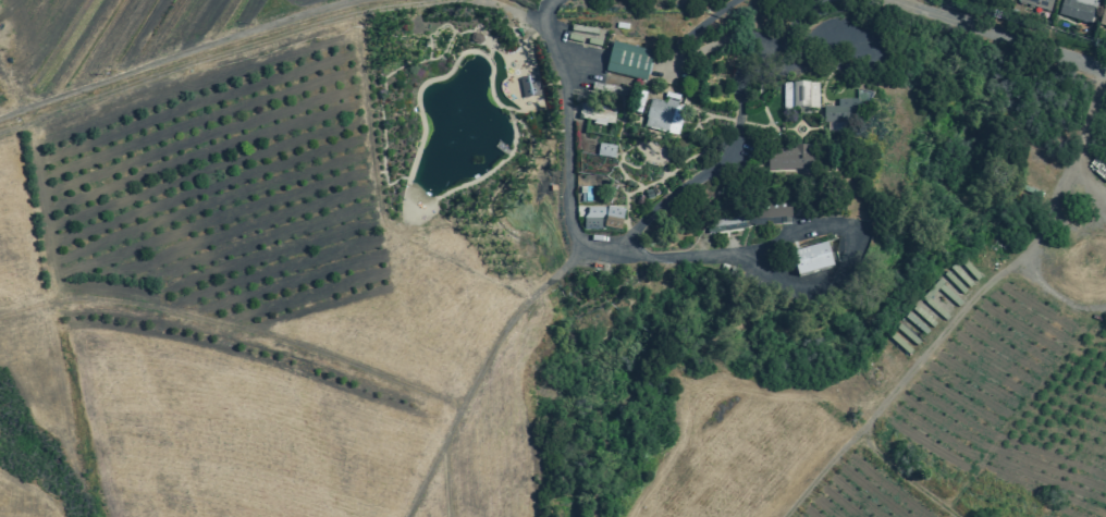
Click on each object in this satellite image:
park: (909, 2)
building: (1036, 4)
road: (546, 10)
building: (1078, 10)
building: (1103, 16)
road: (999, 33)
building: (476, 39)
road: (266, 41)
road: (183, 56)
building: (626, 64)
building: (528, 87)
crop: (13, 95)
building: (801, 99)
building: (598, 115)
building: (662, 115)
building: (844, 118)
building: (606, 150)
building: (790, 161)
road: (671, 198)
building: (770, 211)
building: (603, 217)
building: (730, 224)
road: (681, 256)
building: (812, 258)
crop: (284, 261)
building: (941, 300)
road: (330, 364)
crop: (898, 430)
road: (437, 461)
crop: (24, 500)

